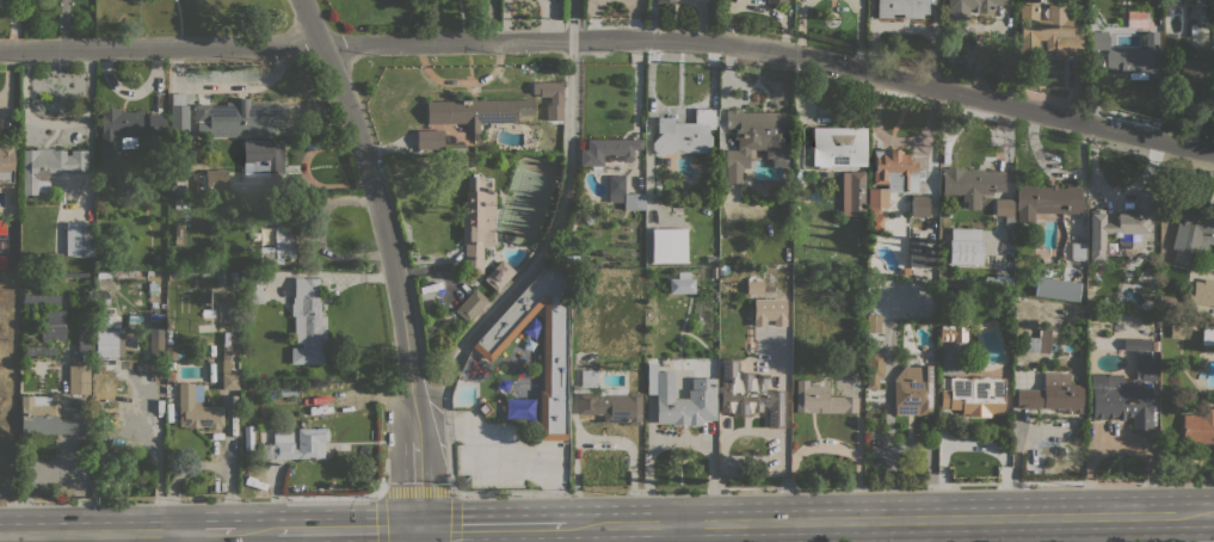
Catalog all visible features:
building: (777, 0)
building: (664, 1)
building: (901, 7)
building: (970, 7)
building: (1135, 17)
building: (1047, 32)
road: (612, 39)
building: (1128, 54)
building: (1196, 70)
building: (5, 96)
building: (472, 112)
building: (179, 115)
building: (239, 118)
building: (127, 131)
building: (686, 134)
building: (756, 140)
building: (436, 141)
building: (845, 144)
building: (608, 150)
building: (265, 159)
building: (6, 165)
building: (49, 166)
building: (892, 170)
building: (216, 180)
building: (970, 183)
building: (852, 192)
building: (623, 193)
building: (876, 199)
building: (1046, 199)
building: (180, 203)
building: (919, 204)
building: (1004, 209)
building: (270, 211)
building: (945, 213)
building: (875, 222)
building: (475, 223)
building: (1120, 226)
building: (179, 234)
building: (1193, 236)
building: (79, 239)
building: (278, 246)
building: (714, 251)
building: (965, 251)
building: (1078, 251)
building: (919, 252)
road: (393, 255)
building: (568, 259)
building: (54, 260)
building: (498, 275)
building: (233, 278)
building: (682, 283)
building: (998, 284)
building: (252, 285)
building: (754, 287)
building: (1202, 291)
building: (953, 296)
building: (41, 298)
building: (470, 304)
building: (768, 312)
building: (55, 318)
building: (307, 321)
building: (873, 322)
building: (947, 327)
building: (1177, 332)
building: (107, 335)
building: (1207, 335)
building: (155, 337)
building: (1039, 341)
building: (84, 343)
building: (1154, 345)
building: (38, 350)
building: (174, 353)
building: (555, 355)
building: (1142, 357)
building: (227, 367)
building: (874, 368)
building: (588, 377)
building: (79, 378)
building: (1097, 381)
building: (288, 390)
building: (912, 390)
building: (271, 393)
building: (1053, 393)
building: (748, 394)
building: (680, 398)
building: (973, 398)
building: (821, 400)
building: (1126, 404)
building: (611, 405)
building: (197, 408)
building: (483, 408)
building: (171, 411)
building: (48, 417)
road: (888, 424)
building: (1198, 426)
building: (279, 443)
road: (156, 445)
road: (507, 450)
road: (930, 462)
road: (418, 491)
road: (1213, 512)
road: (887, 519)
road: (491, 525)
traffic signals: (418, 526)
road: (347, 528)
road: (257, 530)
road: (208, 531)
road: (90, 532)
road: (676, 532)
road: (418, 534)
road: (534, 534)
road: (304, 535)
road: (181, 537)

